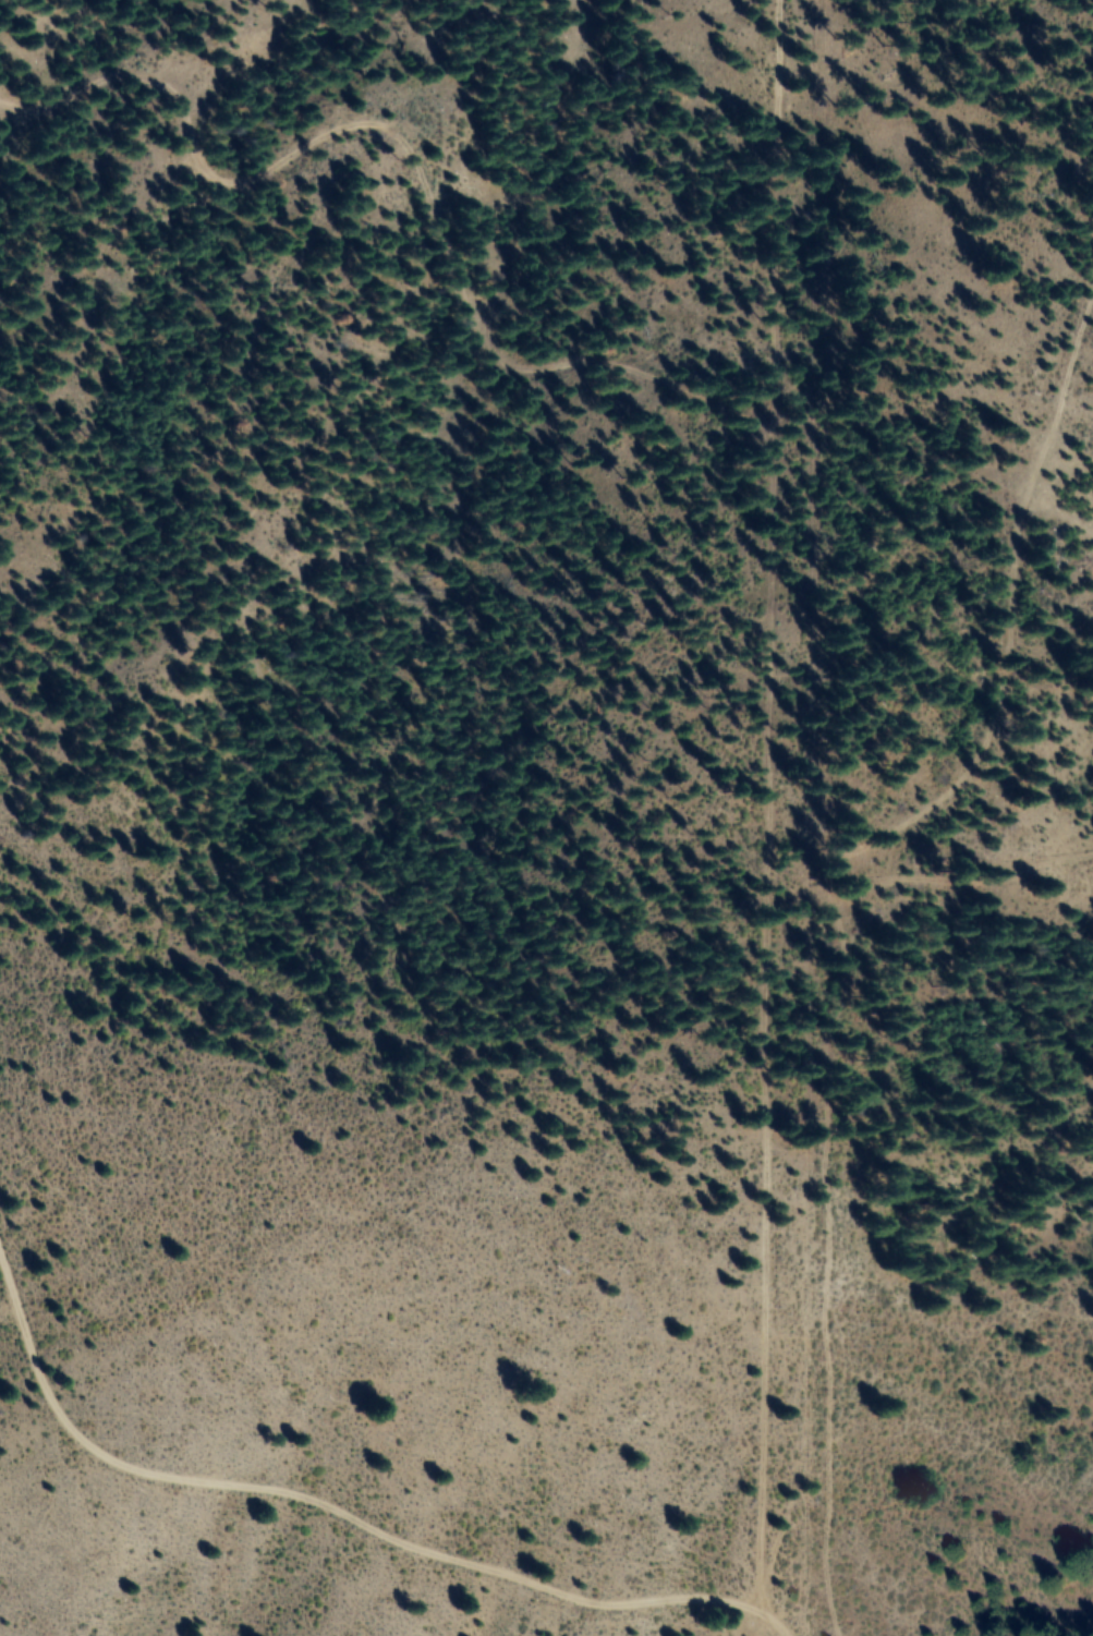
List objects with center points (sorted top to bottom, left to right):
road: (323, 1527)

